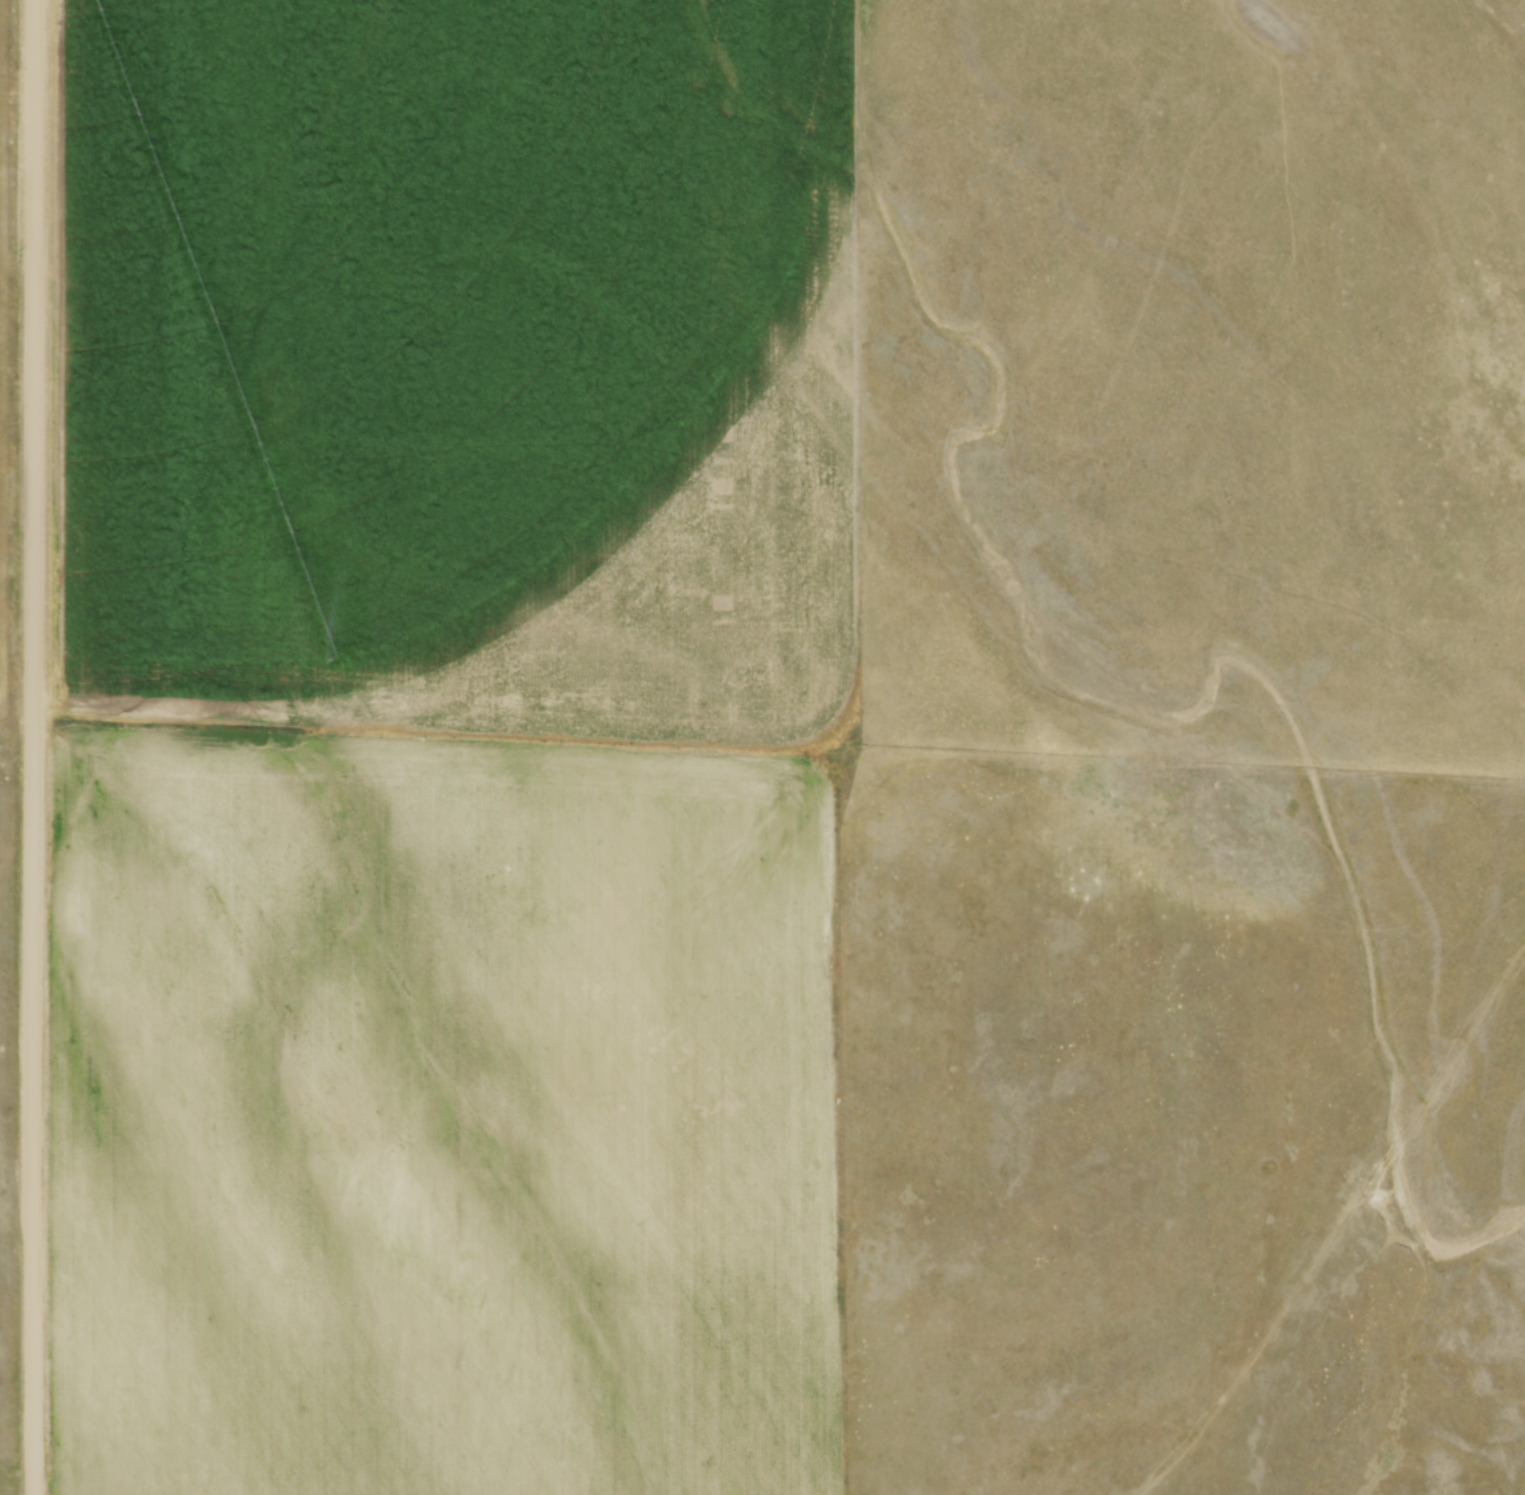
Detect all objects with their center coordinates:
road: (33, 747)
crop: (450, 747)

